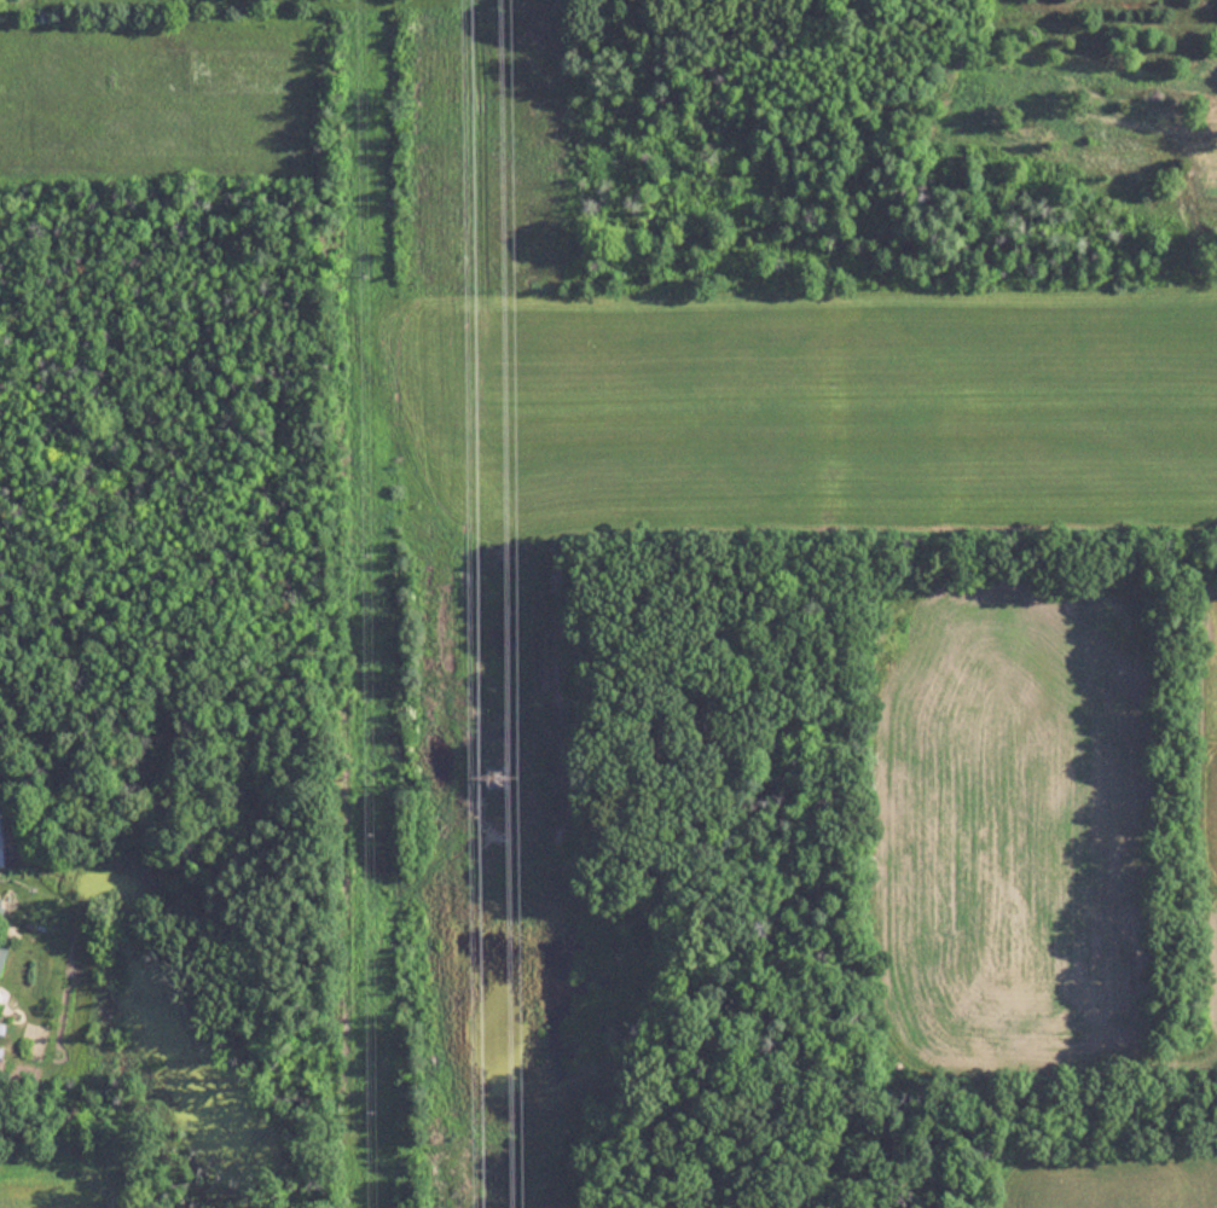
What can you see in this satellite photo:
power tower: (497, 778)
building: (1, 954)

